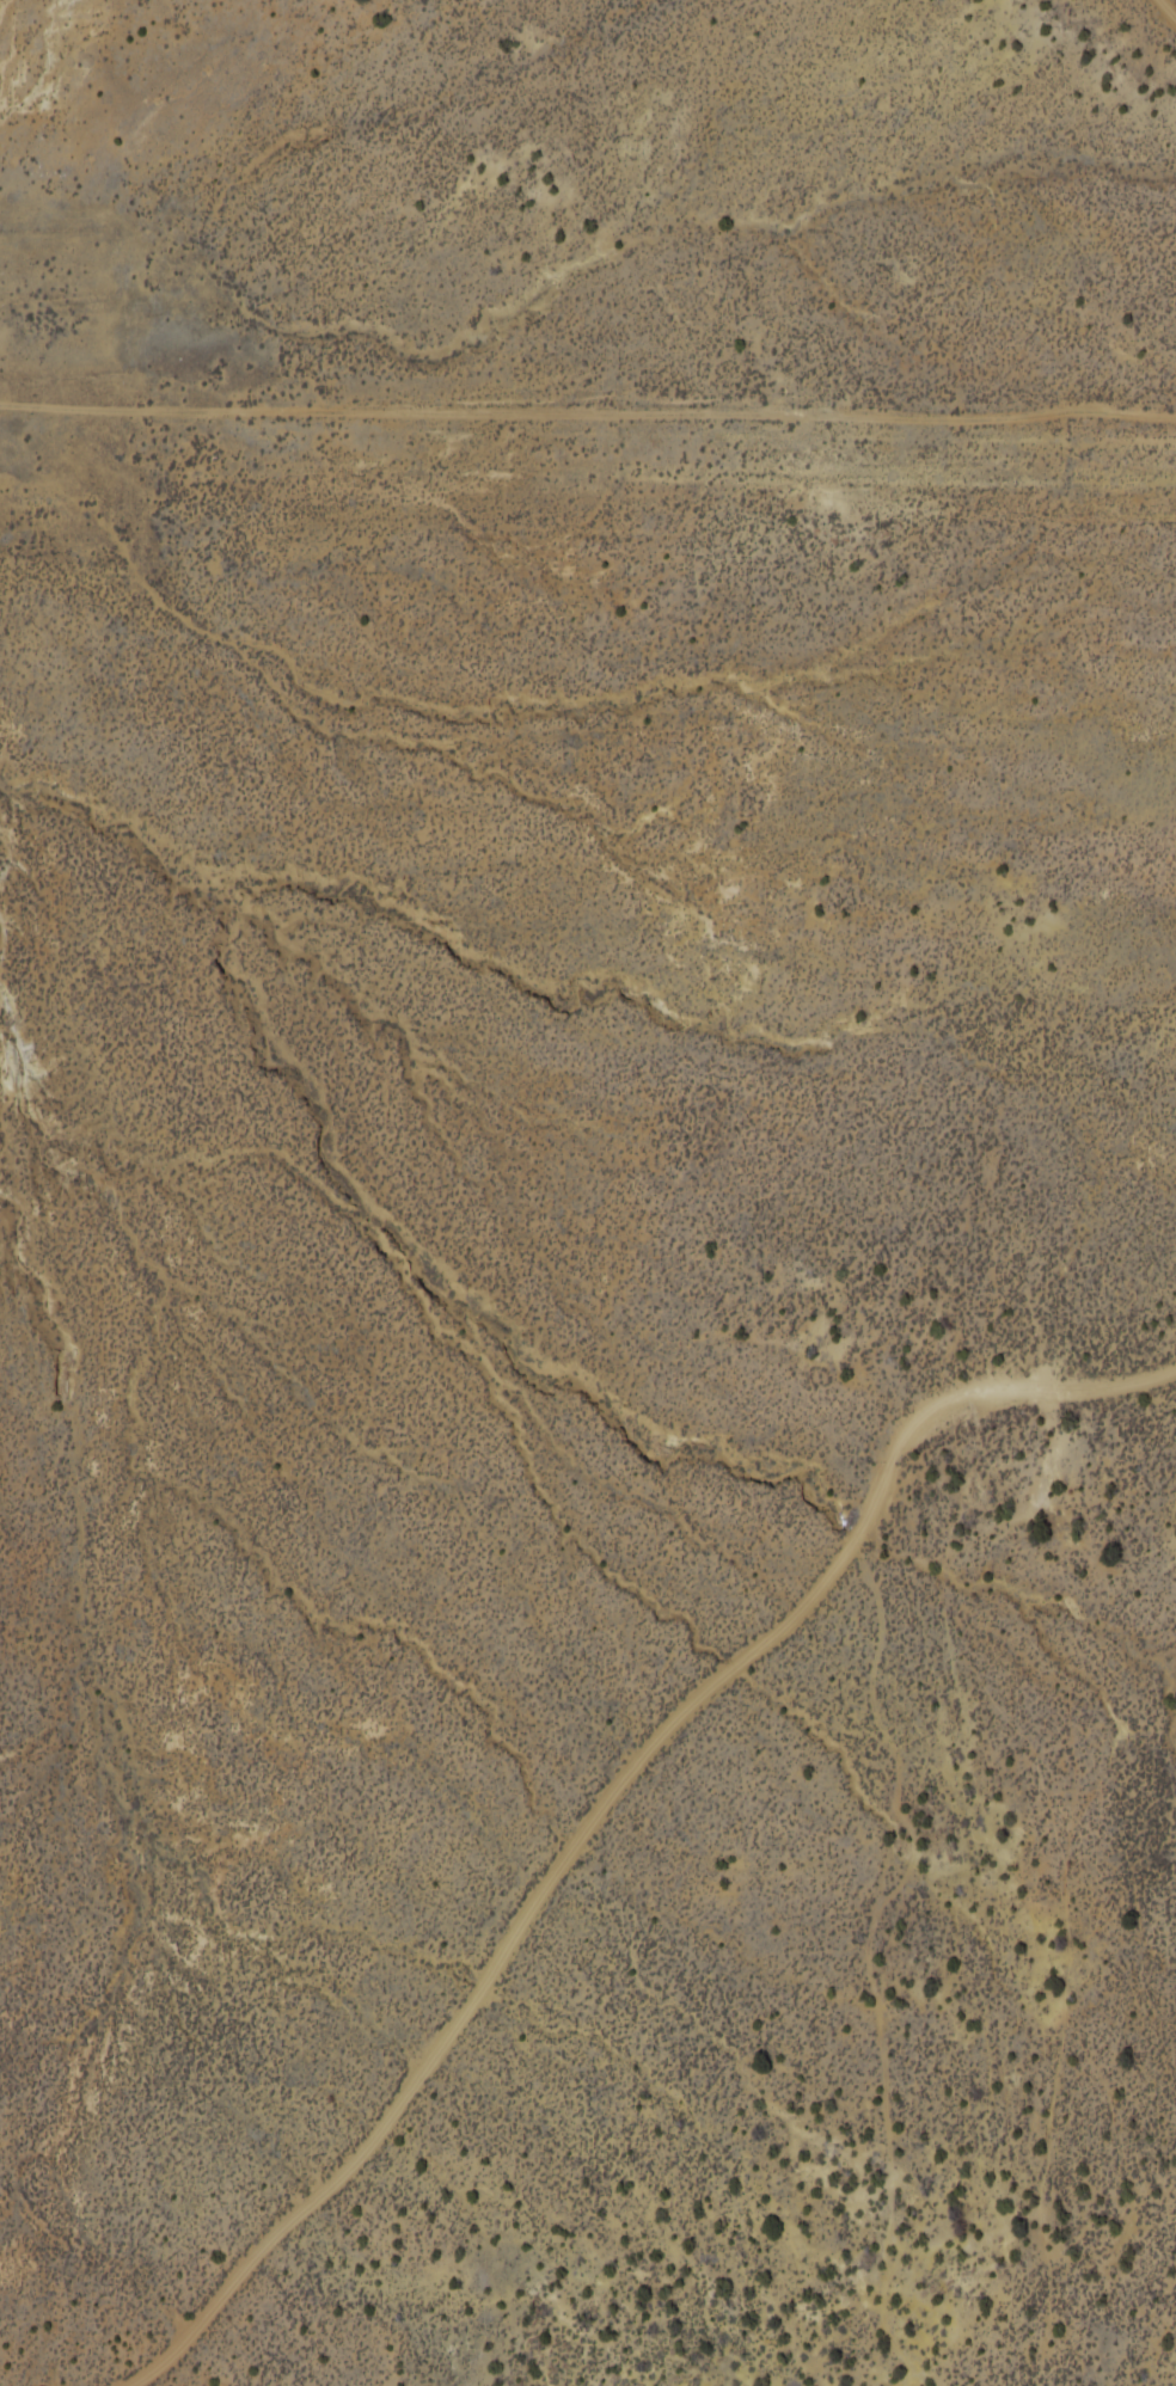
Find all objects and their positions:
road: (605, 1797)

